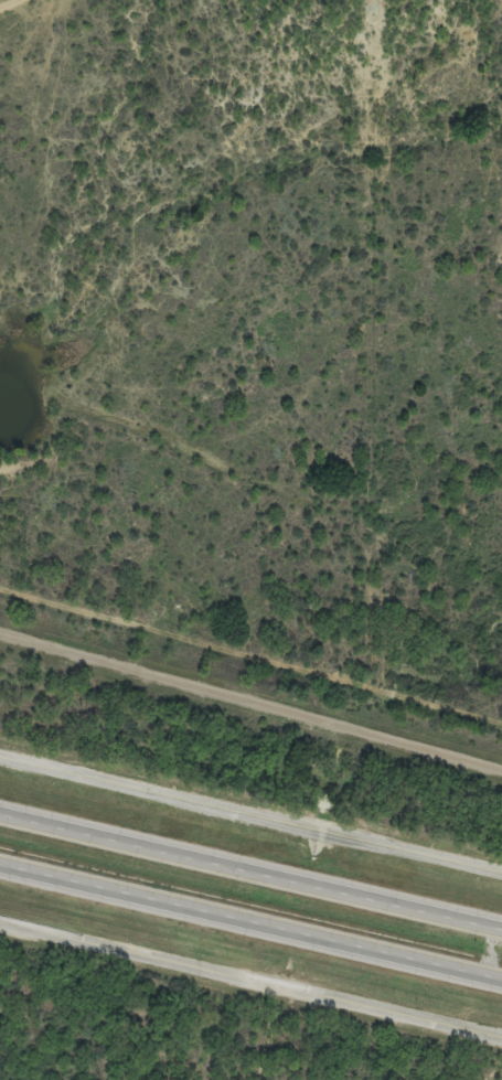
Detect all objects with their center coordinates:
road: (250, 708)
road: (250, 813)
road: (250, 869)
road: (250, 919)
road: (250, 983)

